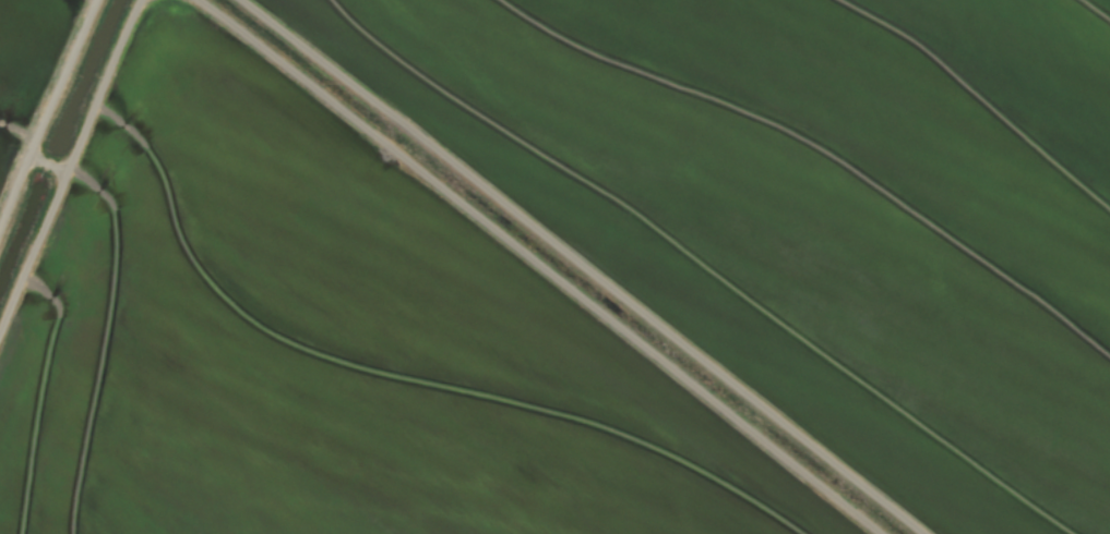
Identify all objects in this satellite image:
crop: (554, 267)

